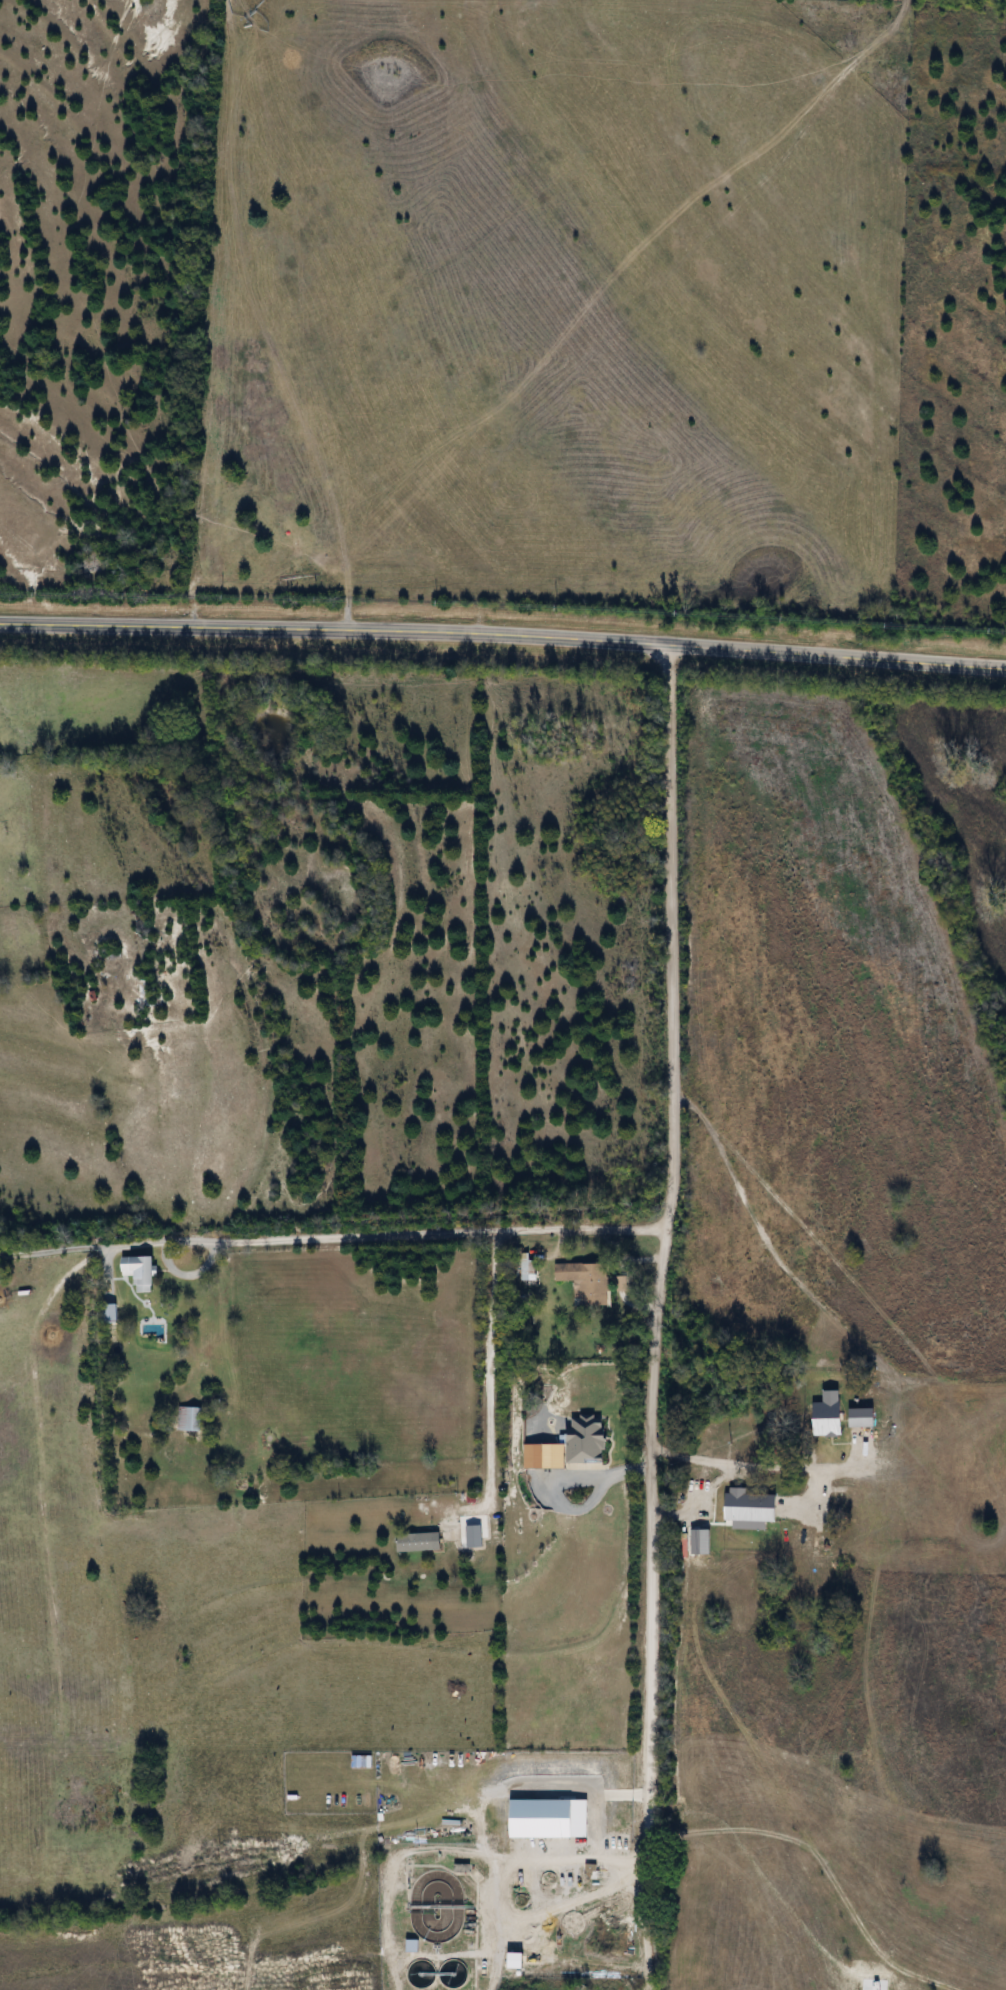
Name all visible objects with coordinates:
road: (503, 631)
road: (377, 1234)
road: (44, 1251)
building: (141, 1271)
building: (1, 1273)
building: (586, 1282)
road: (657, 1301)
building: (111, 1313)
road: (489, 1368)
building: (189, 1418)
road: (754, 1463)
building: (450, 1535)
building: (415, 1541)
road: (481, 1913)
building: (432, 1925)

